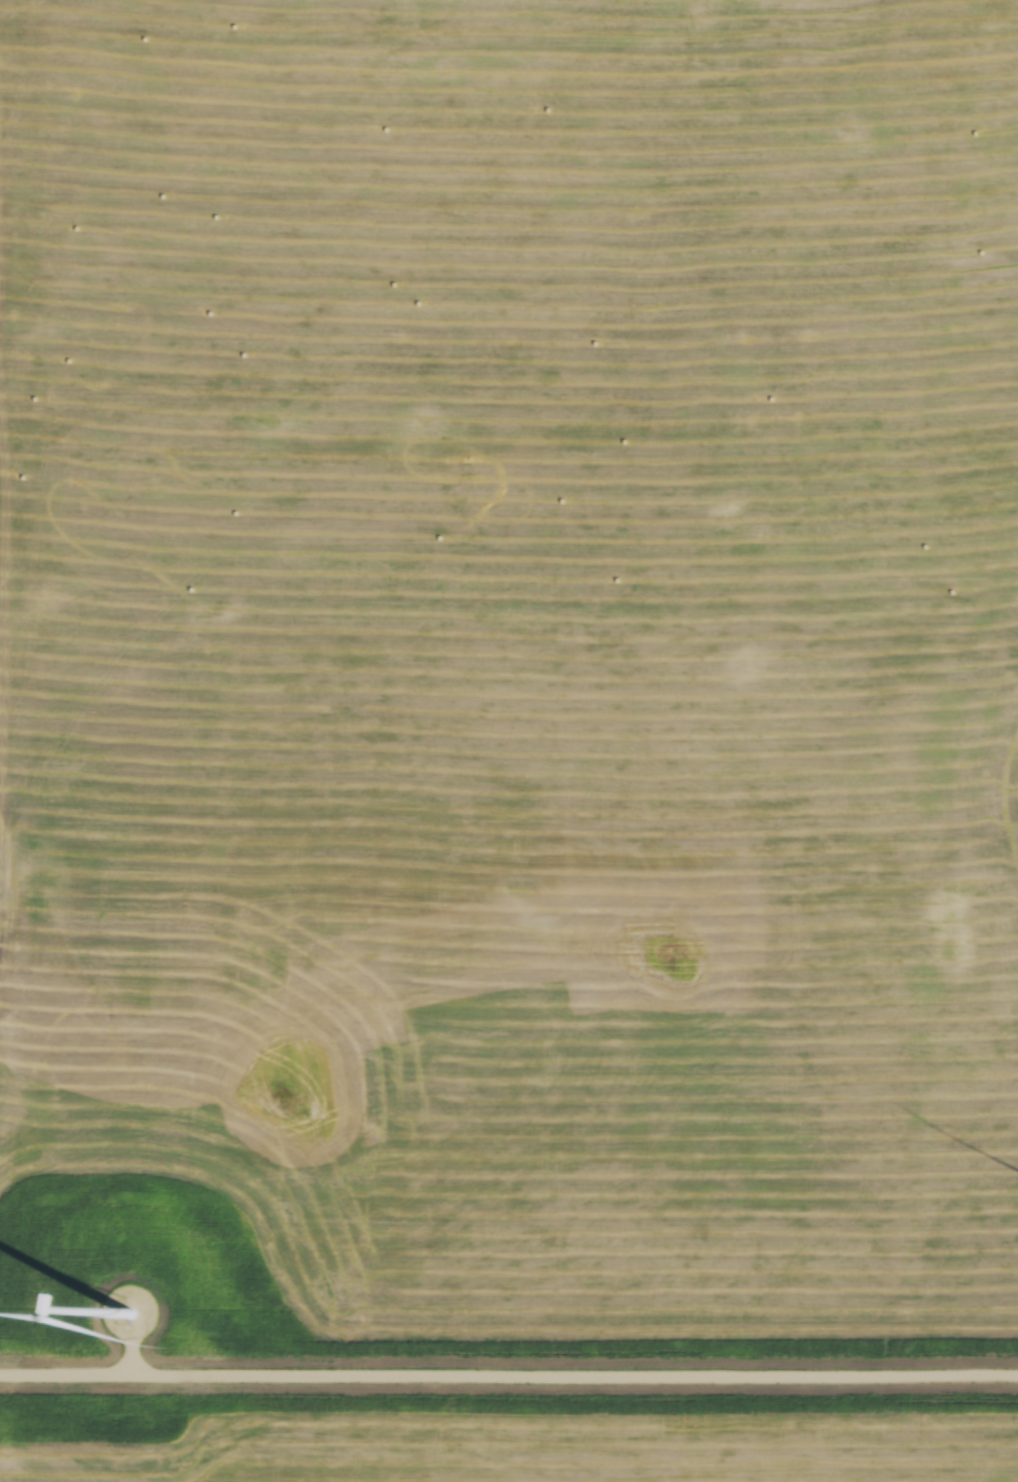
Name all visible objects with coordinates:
wind turbine: (141, 1314)

